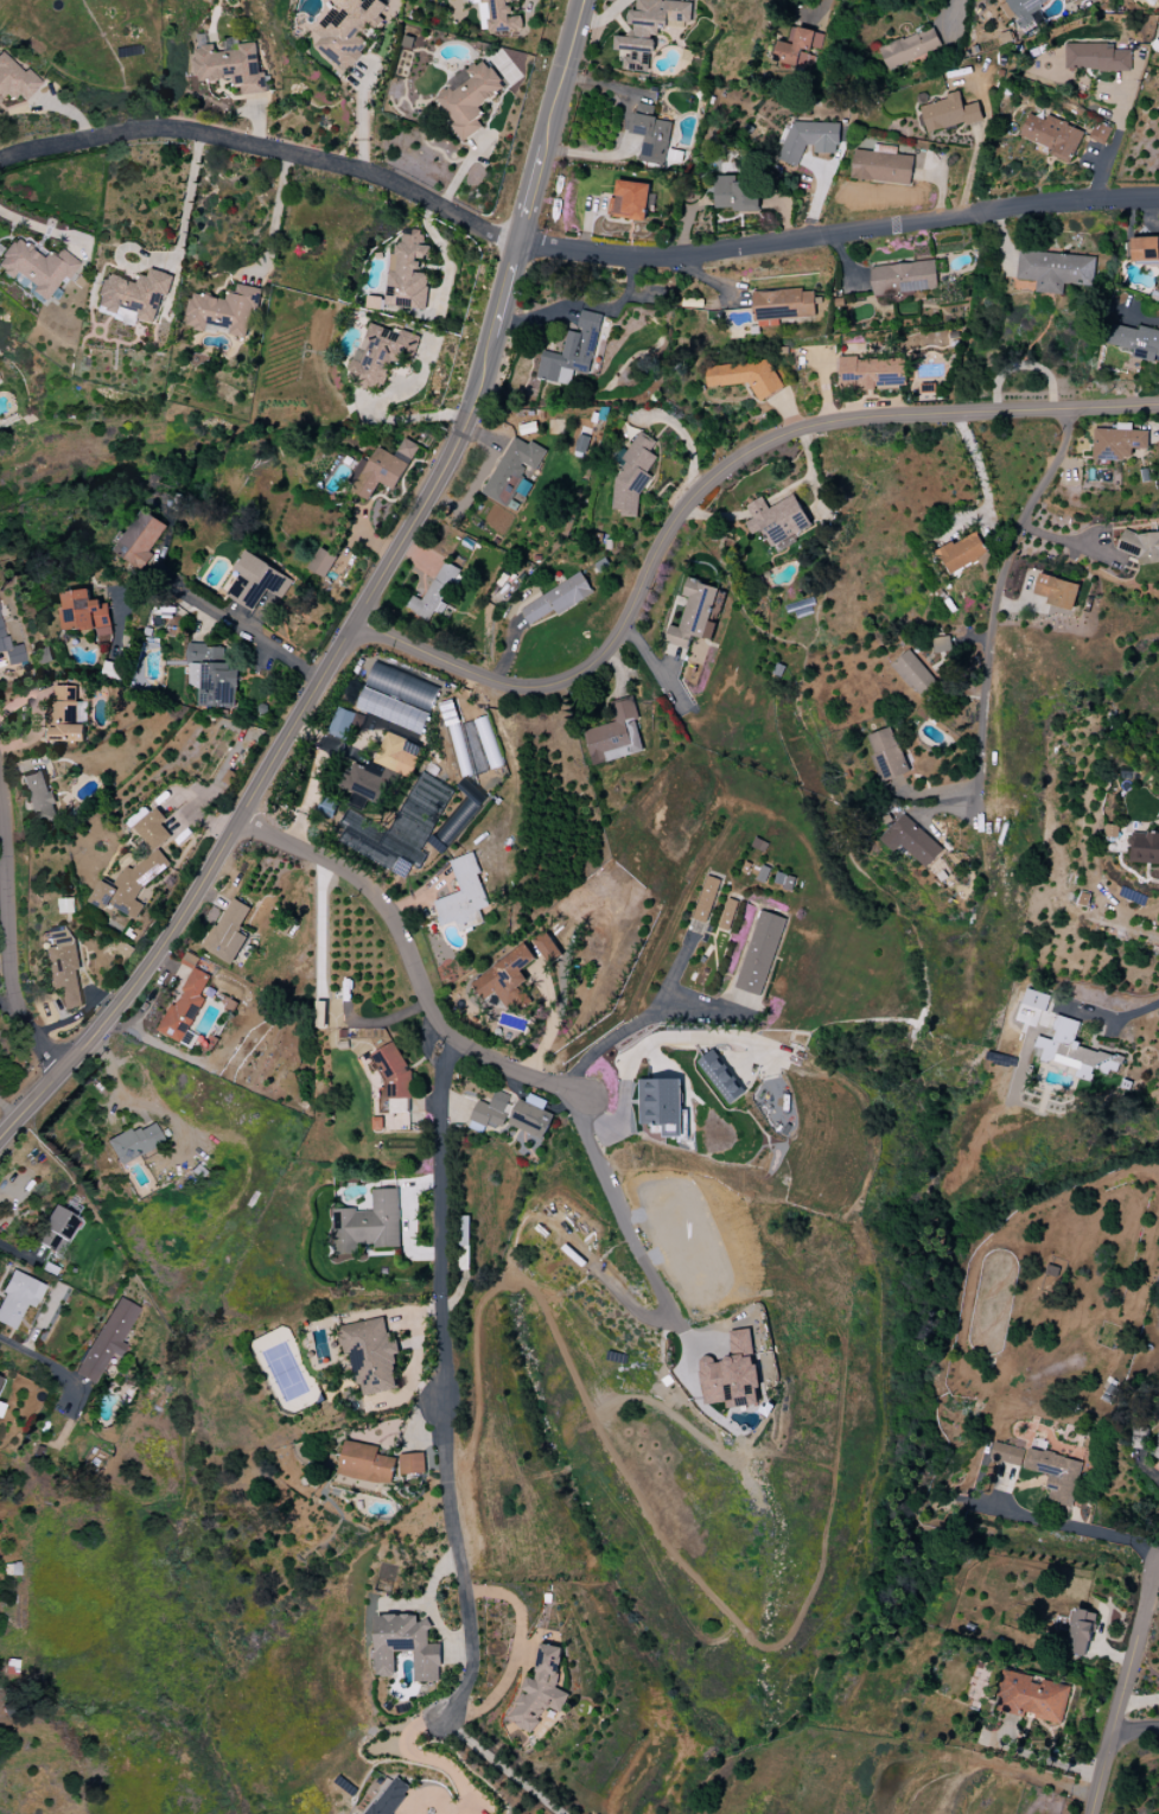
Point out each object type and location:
building: (1072, 0)
road: (953, 11)
building: (1024, 14)
building: (502, 15)
building: (348, 28)
building: (650, 30)
building: (800, 47)
building: (911, 47)
building: (1096, 57)
building: (230, 66)
building: (13, 79)
building: (469, 97)
building: (950, 113)
road: (364, 117)
road: (626, 129)
building: (1100, 133)
building: (651, 134)
building: (1052, 136)
building: (809, 139)
road: (1115, 139)
road: (266, 149)
building: (881, 165)
building: (737, 195)
building: (630, 201)
road: (187, 208)
road: (276, 215)
road: (44, 229)
road: (838, 235)
building: (1145, 249)
building: (37, 268)
building: (1055, 270)
building: (407, 273)
building: (904, 278)
building: (133, 297)
building: (782, 306)
road: (585, 307)
building: (223, 311)
building: (1135, 340)
building: (572, 351)
building: (380, 355)
building: (868, 371)
building: (746, 376)
building: (1119, 443)
building: (383, 469)
road: (979, 470)
building: (633, 475)
road: (706, 485)
building: (777, 518)
building: (140, 540)
road: (1071, 546)
building: (1141, 547)
building: (963, 552)
building: (323, 562)
building: (257, 581)
building: (1057, 591)
building: (437, 592)
building: (558, 599)
road: (995, 600)
road: (365, 604)
building: (84, 613)
building: (694, 615)
road: (241, 628)
building: (942, 644)
building: (11, 650)
building: (43, 655)
building: (915, 674)
building: (212, 675)
building: (397, 686)
building: (382, 708)
building: (340, 723)
building: (616, 734)
building: (397, 755)
building: (887, 755)
building: (364, 781)
building: (38, 797)
building: (457, 820)
building: (153, 829)
building: (912, 841)
building: (377, 844)
building: (1144, 848)
building: (130, 885)
building: (464, 896)
building: (706, 899)
building: (727, 915)
road: (12, 925)
building: (229, 931)
building: (546, 946)
building: (759, 953)
road: (414, 961)
building: (63, 966)
building: (507, 979)
road: (699, 998)
building: (1036, 999)
building: (186, 1001)
road: (638, 1021)
road: (1114, 1021)
building: (1075, 1051)
building: (719, 1077)
building: (662, 1105)
building: (491, 1110)
building: (531, 1119)
building: (134, 1142)
building: (369, 1223)
road: (638, 1226)
building: (56, 1230)
building: (18, 1298)
building: (107, 1339)
road: (36, 1357)
building: (371, 1357)
building: (732, 1374)
building: (0, 1380)
road: (446, 1381)
building: (0, 1407)
building: (1155, 1447)
building: (1008, 1455)
building: (367, 1463)
building: (413, 1463)
building: (1056, 1476)
road: (1080, 1523)
building: (1080, 1631)
building: (406, 1646)
road: (515, 1650)
road: (1122, 1688)
building: (541, 1689)
building: (1032, 1697)
road: (1138, 1701)
road: (1135, 1730)
road: (1040, 1758)
road: (431, 1759)
road: (501, 1768)
road: (428, 1796)
building: (390, 1797)

